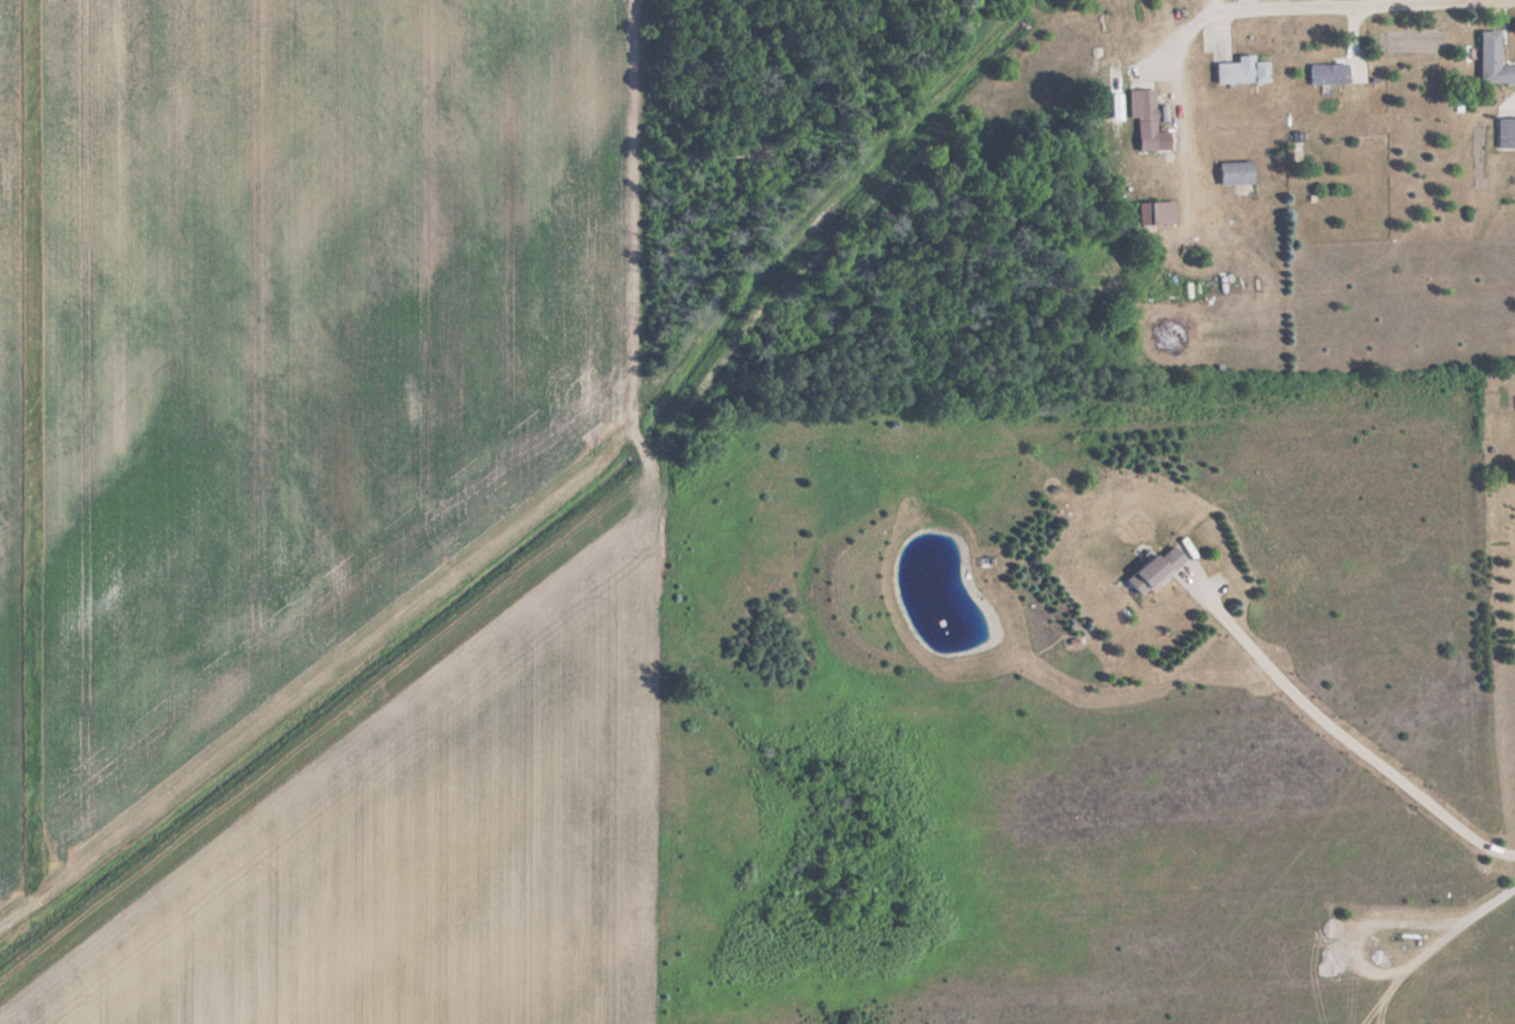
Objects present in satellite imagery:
road: (1316, 4)
building: (1490, 60)
building: (1237, 70)
building: (1326, 72)
building: (1504, 132)
building: (1144, 140)
building: (1231, 172)
building: (1141, 212)
building: (1149, 569)
road: (1333, 728)

